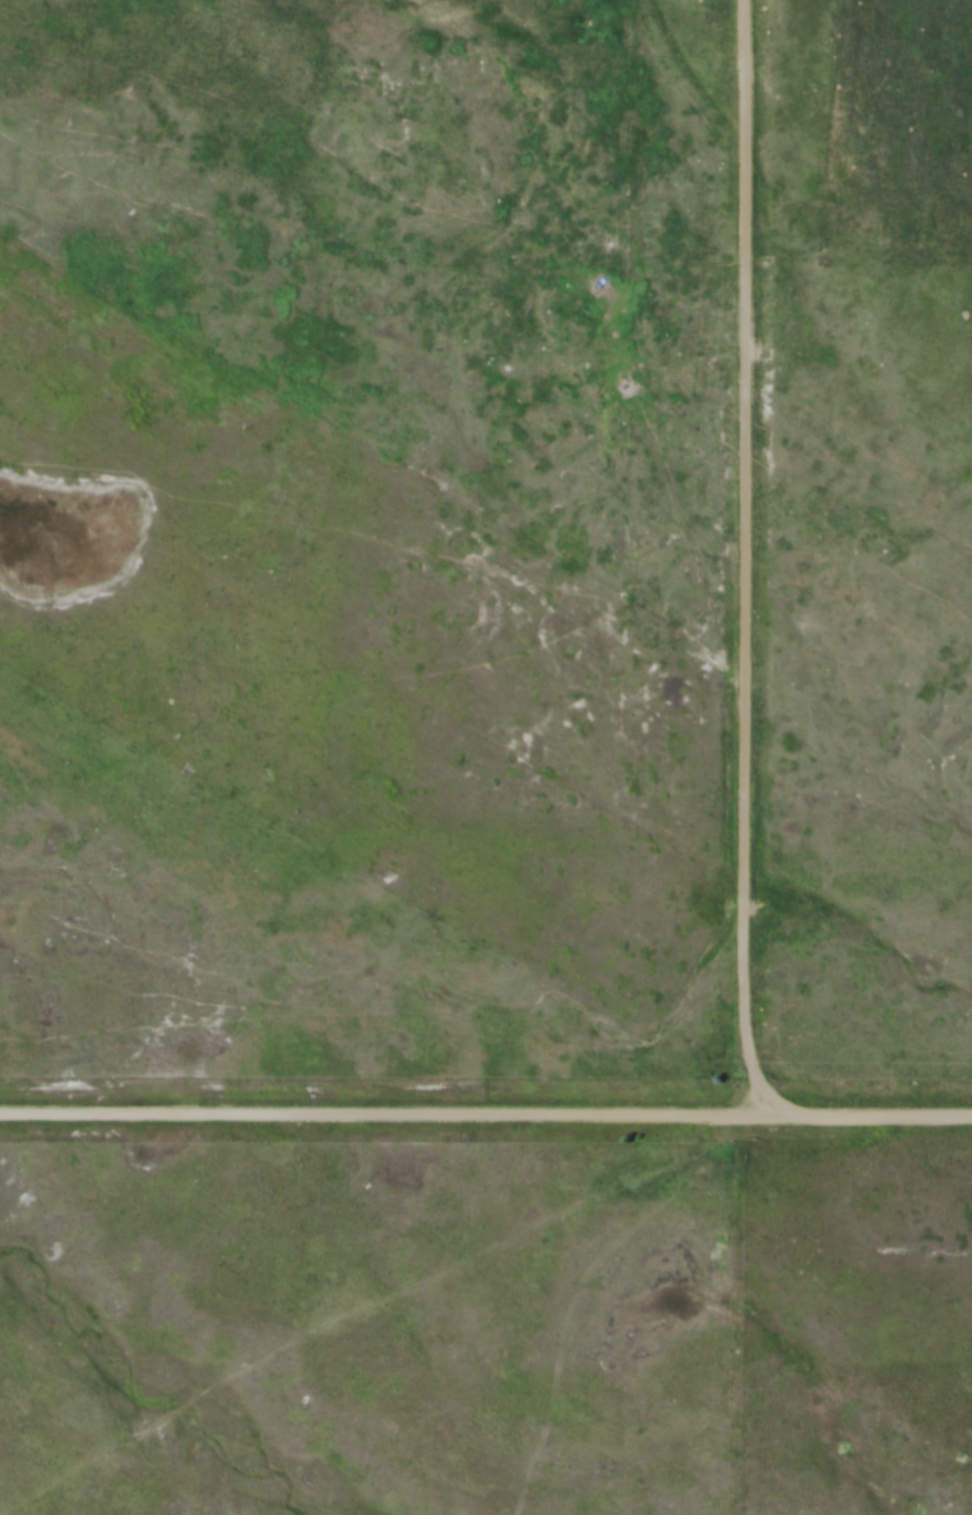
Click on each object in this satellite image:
road: (748, 558)
road: (485, 1114)

